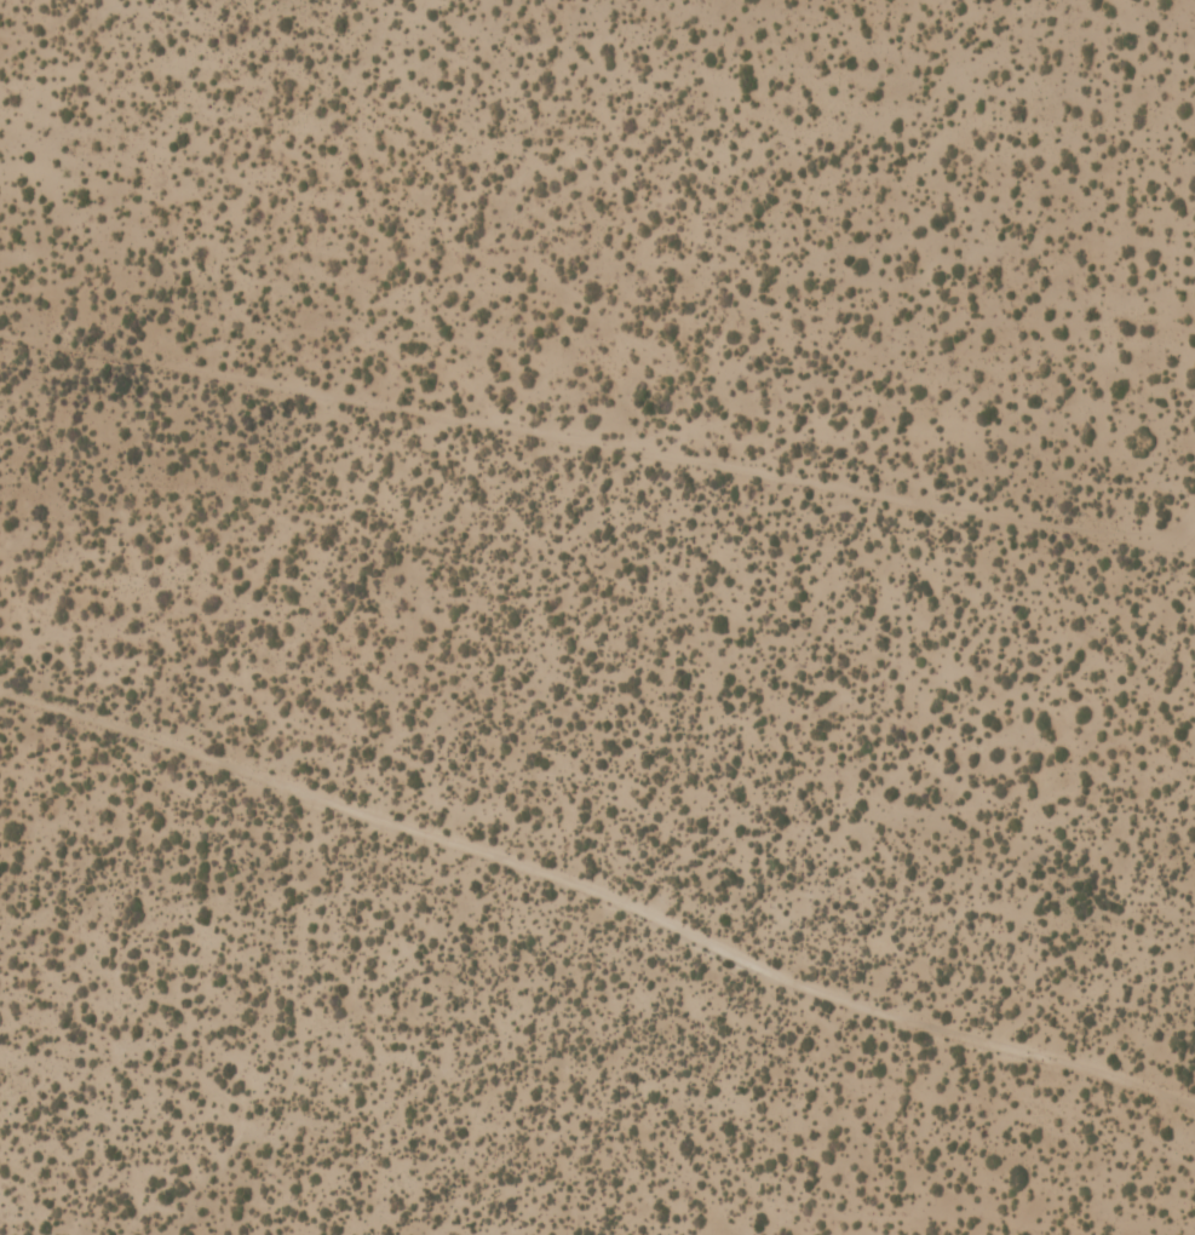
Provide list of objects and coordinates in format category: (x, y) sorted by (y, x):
road: (601, 856)

